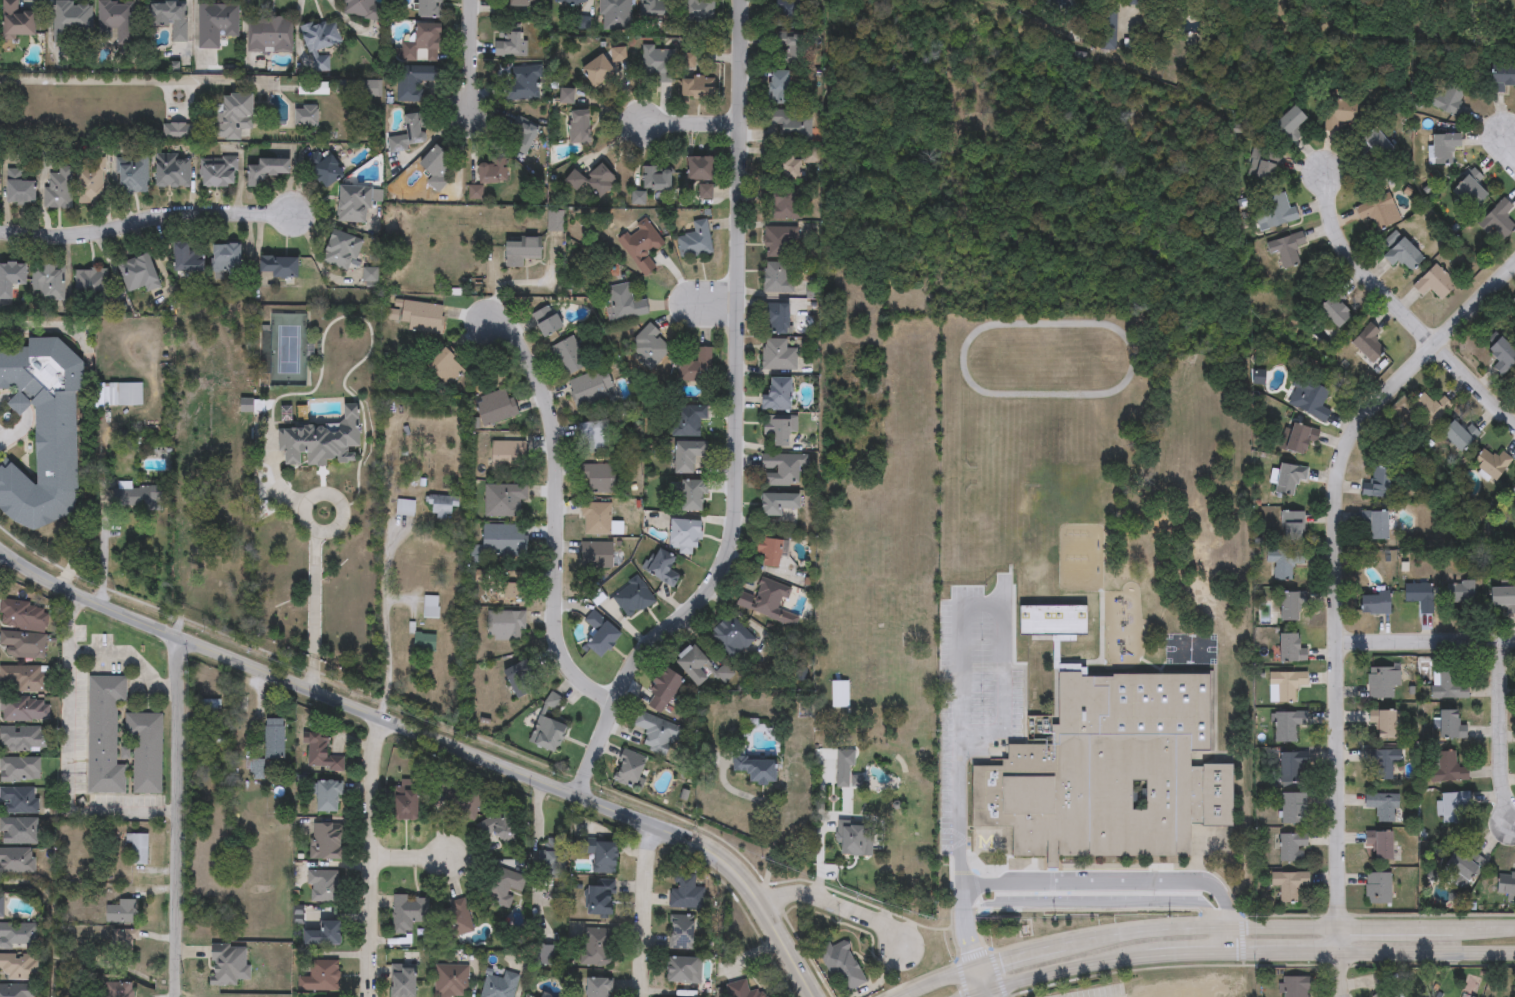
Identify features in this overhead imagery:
building: (1143, 0)
building: (572, 2)
building: (524, 4)
building: (429, 8)
building: (364, 9)
building: (658, 11)
building: (615, 13)
building: (699, 13)
building: (790, 15)
building: (169, 19)
building: (18, 20)
building: (117, 21)
building: (72, 22)
building: (216, 24)
building: (1109, 28)
building: (269, 35)
building: (320, 36)
building: (509, 43)
building: (423, 45)
building: (792, 50)
road: (468, 54)
building: (689, 62)
building: (660, 63)
building: (319, 65)
building: (1501, 77)
building: (414, 80)
road: (104, 81)
building: (525, 85)
building: (784, 88)
building: (694, 89)
building: (1448, 102)
building: (1335, 114)
building: (306, 116)
building: (234, 117)
building: (1286, 125)
building: (792, 126)
building: (416, 128)
building: (581, 128)
road: (692, 128)
building: (177, 133)
building: (518, 135)
building: (1375, 145)
road: (1509, 148)
building: (1442, 149)
building: (325, 168)
building: (437, 168)
building: (702, 169)
building: (788, 169)
building: (268, 170)
building: (492, 170)
building: (218, 173)
building: (173, 174)
building: (132, 176)
building: (658, 179)
building: (91, 181)
building: (594, 181)
building: (58, 188)
building: (19, 189)
building: (1467, 190)
building: (354, 204)
building: (788, 207)
building: (1378, 212)
building: (1273, 213)
road: (147, 219)
building: (555, 221)
building: (1497, 221)
building: (695, 241)
building: (780, 242)
building: (642, 246)
building: (1285, 249)
building: (342, 251)
building: (521, 251)
building: (1400, 253)
building: (186, 259)
building: (226, 260)
road: (1358, 264)
building: (279, 268)
building: (139, 275)
building: (779, 278)
building: (11, 279)
building: (48, 283)
building: (1434, 283)
building: (91, 287)
building: (1513, 302)
building: (625, 303)
road: (719, 307)
building: (1331, 312)
building: (418, 317)
building: (777, 319)
building: (547, 321)
road: (57, 327)
building: (651, 344)
building: (1367, 344)
building: (1500, 354)
building: (778, 355)
building: (568, 357)
building: (447, 368)
building: (698, 368)
building: (591, 387)
road: (1475, 387)
building: (119, 395)
building: (779, 396)
building: (1307, 399)
building: (495, 407)
building: (1426, 413)
building: (688, 419)
road: (736, 420)
building: (42, 430)
building: (778, 432)
road: (1, 433)
building: (1458, 434)
building: (596, 437)
building: (1299, 441)
building: (321, 442)
building: (507, 455)
building: (689, 456)
building: (1491, 464)
building: (782, 469)
building: (599, 478)
building: (1289, 479)
building: (1376, 485)
building: (1513, 491)
building: (140, 496)
building: (693, 496)
building: (503, 500)
building: (778, 504)
building: (441, 507)
road: (558, 508)
road: (304, 518)
building: (596, 519)
building: (1292, 527)
building: (1376, 527)
building: (685, 536)
building: (503, 540)
road: (101, 542)
building: (770, 551)
building: (596, 555)
building: (1283, 563)
building: (664, 570)
building: (513, 587)
road: (101, 593)
road: (1338, 594)
building: (1459, 594)
building: (1420, 597)
building: (633, 598)
building: (1501, 600)
building: (766, 604)
building: (1374, 604)
building: (1289, 606)
road: (314, 607)
building: (429, 607)
building: (23, 615)
building: (506, 626)
building: (601, 635)
building: (731, 638)
road: (386, 642)
building: (423, 643)
road: (1426, 643)
building: (23, 645)
building: (1289, 651)
road: (130, 656)
building: (697, 667)
building: (27, 677)
building: (521, 680)
building: (1382, 683)
building: (1448, 686)
building: (1284, 687)
building: (665, 692)
building: (840, 695)
building: (24, 709)
building: (1381, 725)
building: (1288, 726)
building: (548, 727)
building: (1449, 727)
road: (1498, 732)
building: (104, 733)
building: (657, 734)
road: (438, 735)
building: (22, 738)
road: (978, 739)
building: (275, 740)
building: (145, 750)
road: (69, 752)
building: (319, 753)
building: (1381, 763)
building: (1290, 768)
building: (20, 769)
building: (1449, 769)
building: (630, 770)
building: (758, 770)
building: (846, 770)
building: (1111, 773)
building: (327, 795)
building: (19, 800)
building: (404, 803)
building: (1381, 808)
building: (1450, 808)
building: (1294, 809)
road: (178, 816)
building: (499, 826)
building: (18, 831)
building: (856, 839)
building: (325, 840)
building: (980, 844)
building: (1381, 847)
building: (137, 848)
building: (1292, 848)
road: (771, 849)
road: (371, 854)
road: (410, 858)
building: (603, 858)
building: (551, 859)
building: (17, 860)
building: (1461, 867)
building: (322, 885)
road: (1108, 885)
building: (500, 886)
building: (1287, 886)
building: (1504, 887)
building: (1377, 890)
building: (683, 893)
building: (599, 898)
road: (839, 902)
building: (1, 907)
road: (643, 908)
building: (121, 912)
building: (406, 912)
building: (458, 916)
road: (1207, 925)
building: (679, 932)
building: (322, 933)
building: (18, 935)
road: (967, 936)
road: (1232, 938)
building: (123, 943)
building: (594, 947)
road: (1240, 951)
building: (543, 954)
building: (229, 964)
building: (842, 964)
building: (19, 966)
building: (682, 969)
building: (319, 975)
road: (982, 979)
building: (401, 980)
building: (449, 980)
building: (497, 983)
building: (1296, 986)
building: (598, 987)
building: (118, 989)
building: (741, 989)
building: (16, 991)
building: (1384, 993)
road: (987, 994)
building: (526, 996)

